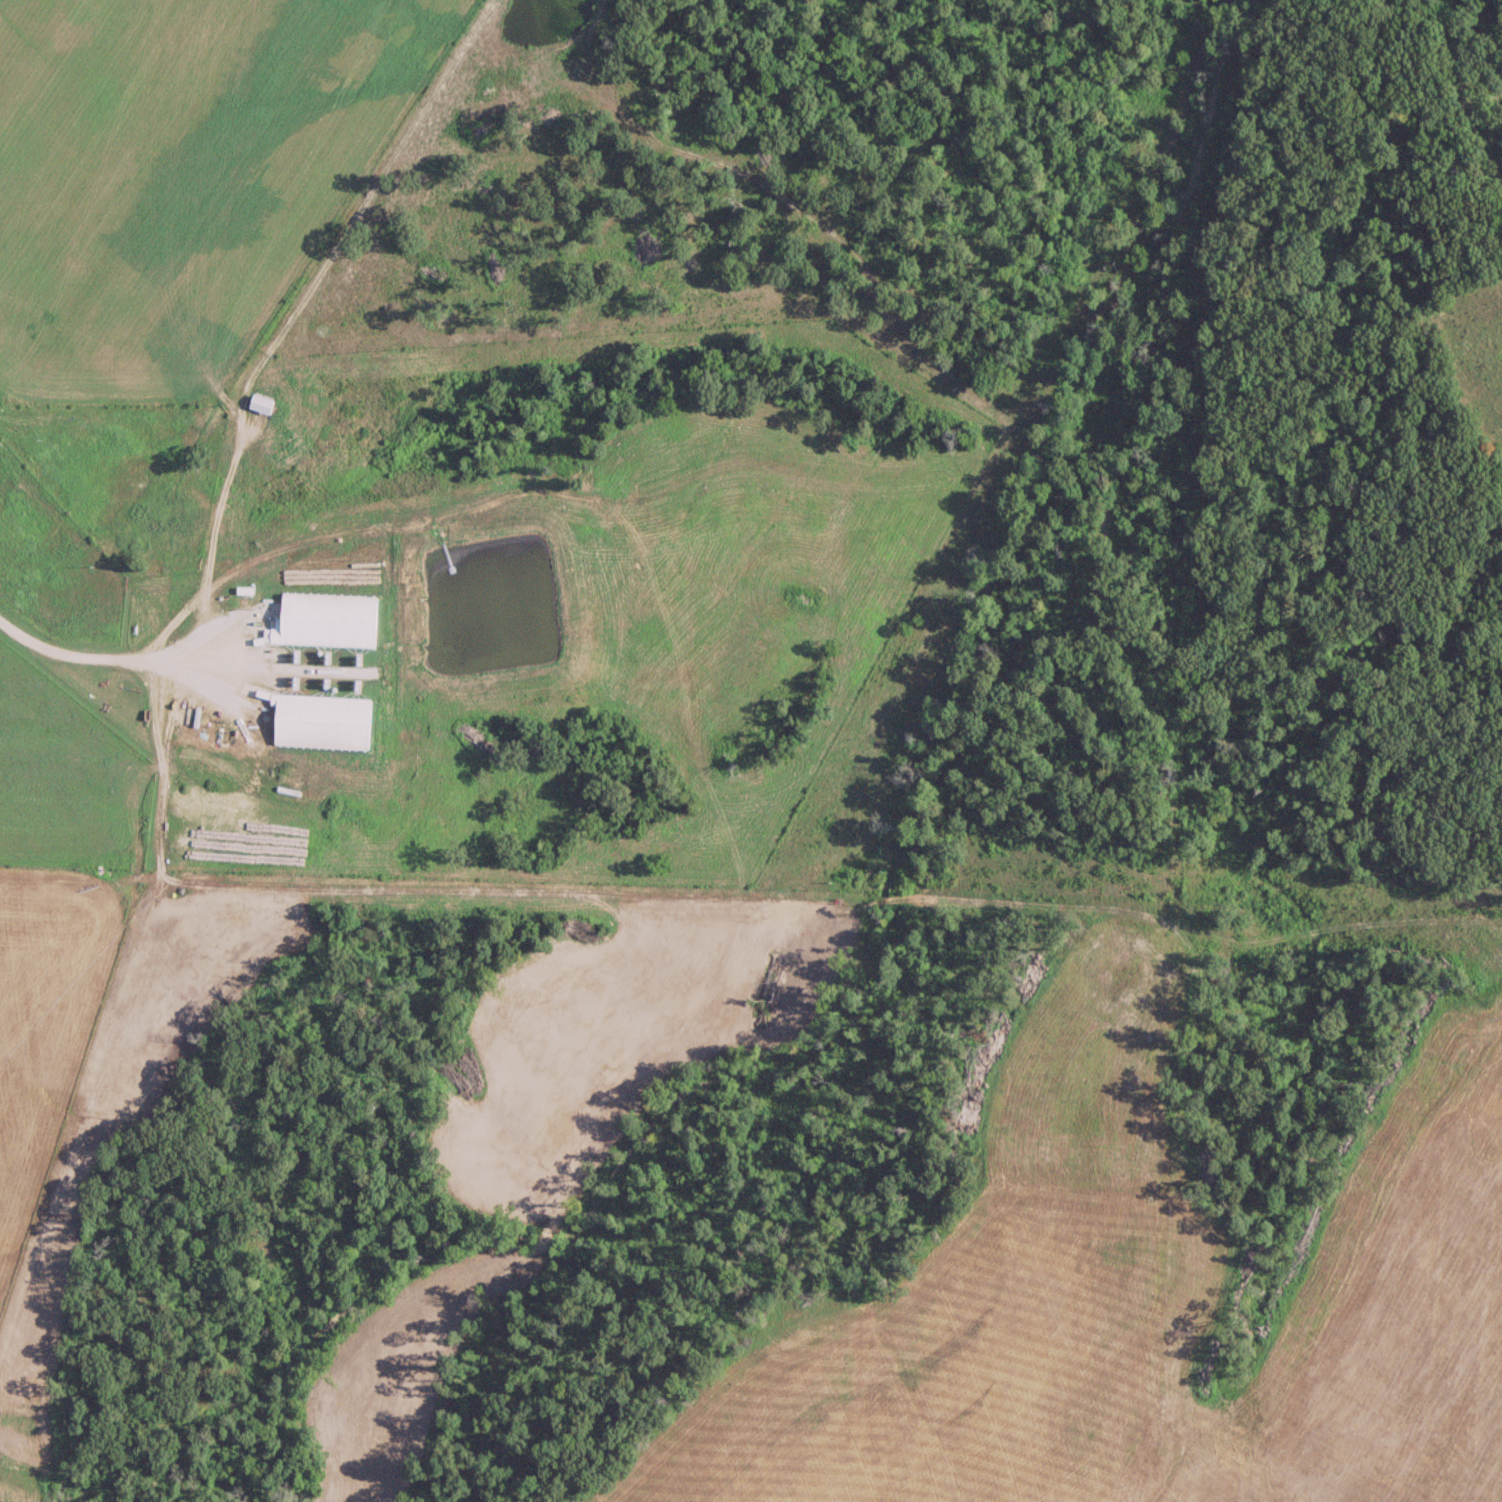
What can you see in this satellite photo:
building: (325, 620)
road: (121, 659)
building: (322, 721)
crop: (934, 1369)

